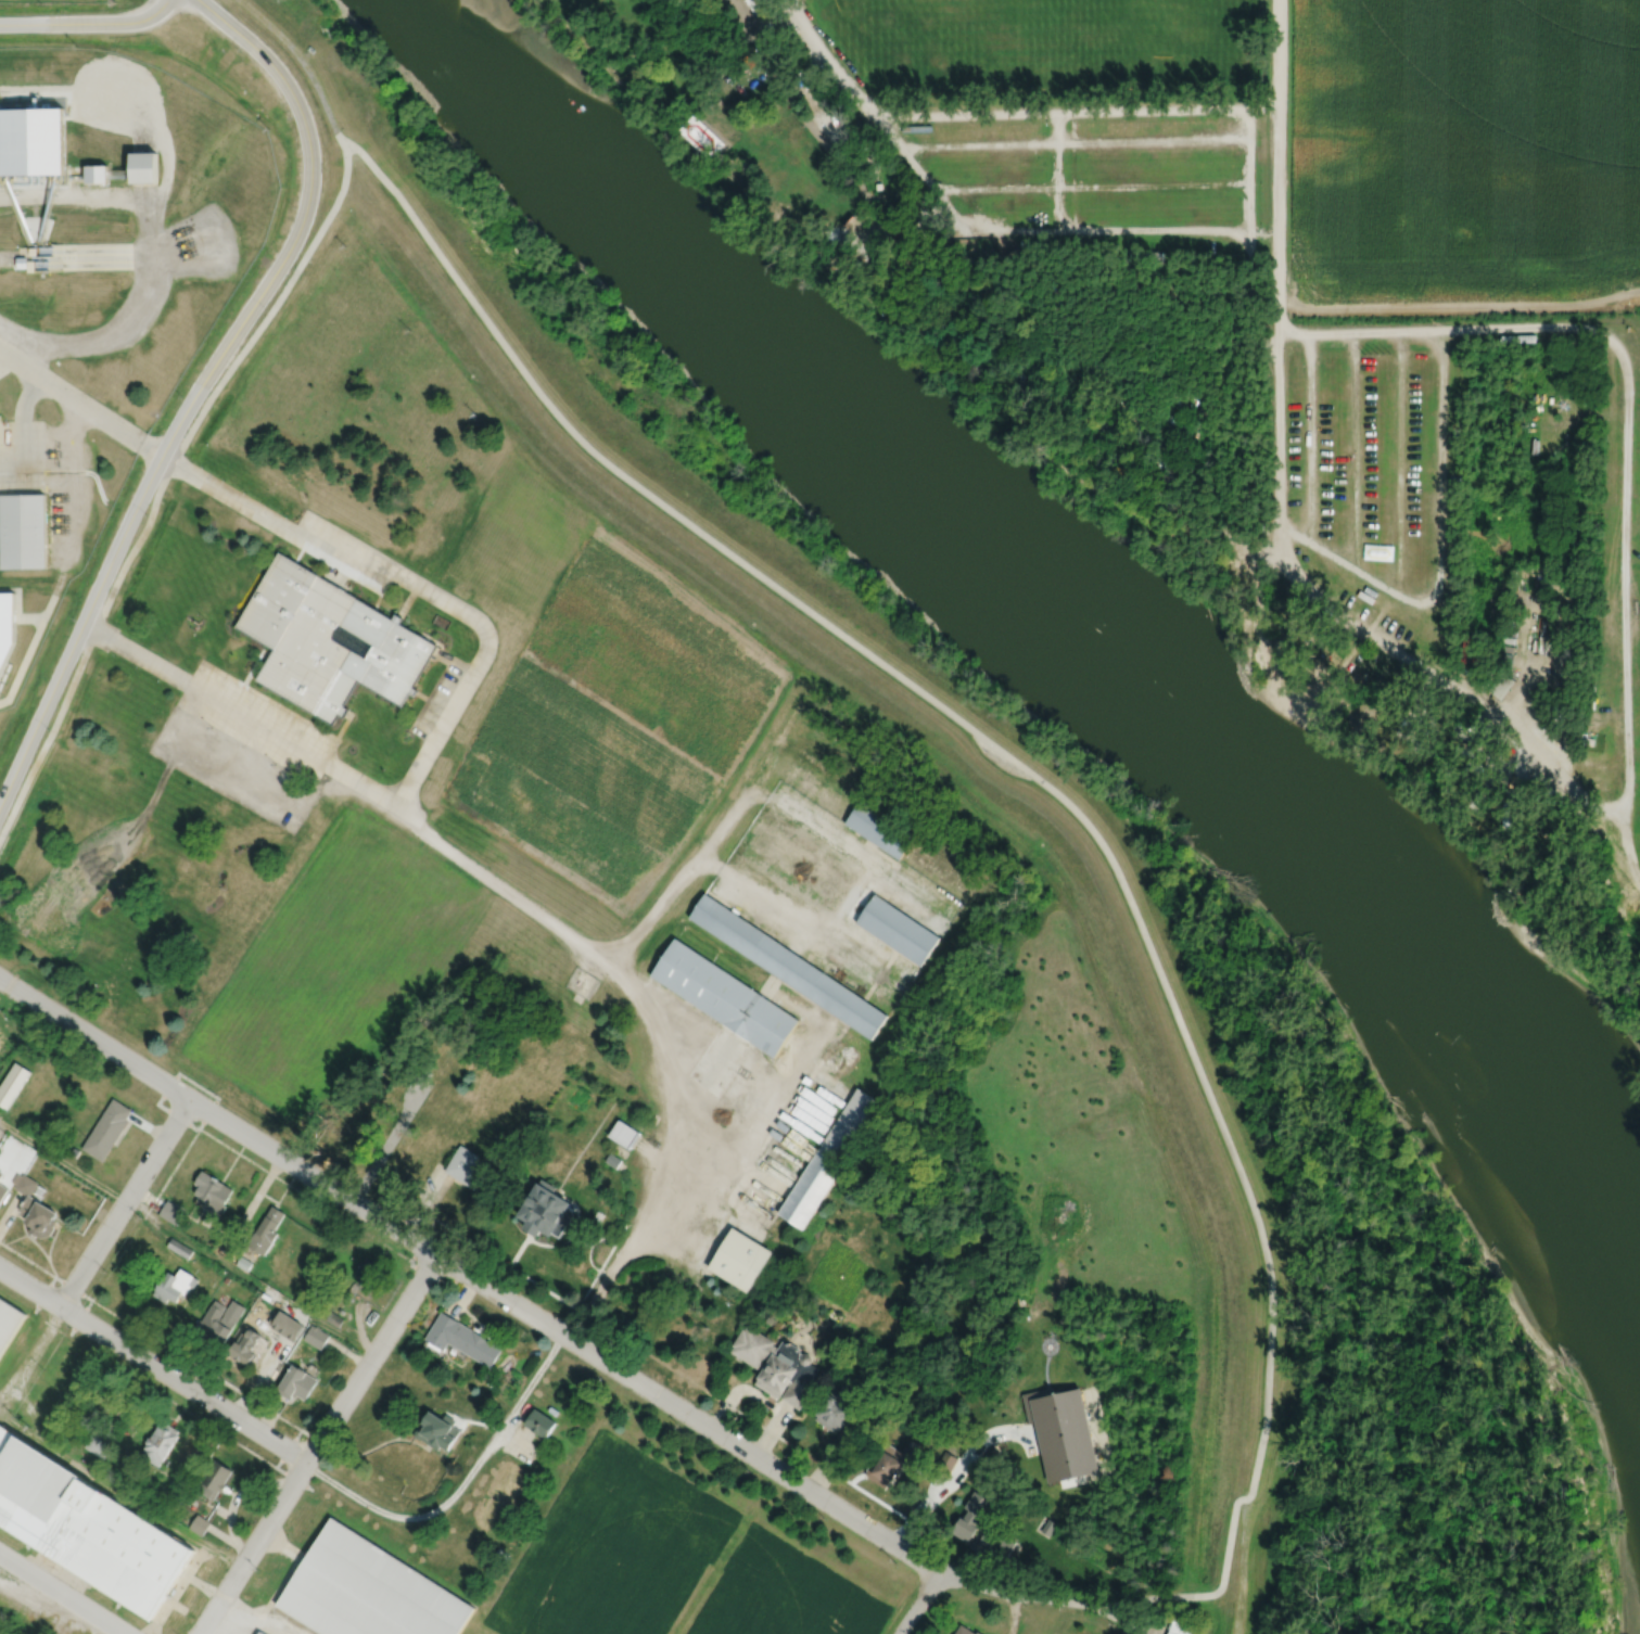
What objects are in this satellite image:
road: (87, 22)
road: (1276, 53)
building: (39, 55)
building: (64, 55)
road: (304, 64)
building: (916, 127)
building: (30, 140)
road: (1072, 142)
building: (143, 166)
road: (1075, 169)
building: (96, 173)
road: (1090, 184)
road: (161, 200)
road: (1093, 229)
building: (835, 235)
building: (33, 251)
building: (21, 261)
building: (30, 266)
road: (1249, 296)
road: (1276, 306)
road: (1, 352)
road: (199, 388)
road: (79, 401)
building: (1170, 406)
road: (21, 429)
building: (2, 431)
road: (1625, 435)
road: (1309, 438)
road: (1356, 451)
road: (1398, 462)
road: (67, 480)
road: (161, 484)
building: (22, 533)
parking lot: (343, 551)
road: (1439, 556)
road: (411, 580)
building: (5, 621)
river: (1050, 624)
building: (328, 641)
building: (1500, 659)
road: (1529, 676)
building: (1563, 684)
building: (1500, 685)
parking lot: (436, 702)
road: (252, 719)
parking lot: (244, 748)
road: (1005, 755)
road: (757, 792)
building: (879, 829)
park: (134, 868)
building: (838, 890)
road: (800, 921)
building: (787, 966)
building: (724, 997)
road: (654, 1039)
road: (716, 1054)
building: (419, 1076)
building: (12, 1084)
road: (217, 1116)
building: (805, 1127)
road: (196, 1128)
road: (762, 1128)
building: (106, 1131)
building: (624, 1135)
building: (74, 1152)
building: (828, 1159)
building: (612, 1161)
building: (468, 1170)
building: (0, 1174)
building: (3, 1180)
building: (24, 1184)
building: (2, 1192)
building: (212, 1193)
road: (124, 1202)
road: (325, 1208)
building: (170, 1212)
building: (545, 1213)
road: (145, 1214)
building: (37, 1217)
building: (179, 1223)
building: (266, 1231)
road: (185, 1239)
building: (179, 1249)
road: (27, 1259)
building: (739, 1261)
building: (244, 1264)
building: (367, 1274)
building: (226, 1279)
building: (174, 1287)
road: (116, 1315)
road: (79, 1317)
building: (9, 1322)
building: (284, 1325)
building: (216, 1327)
building: (316, 1336)
building: (461, 1341)
building: (244, 1344)
building: (752, 1349)
road: (639, 1350)
road: (29, 1356)
road: (153, 1365)
building: (882, 1375)
building: (787, 1376)
building: (296, 1381)
road: (126, 1399)
building: (953, 1405)
building: (840, 1409)
building: (542, 1421)
building: (438, 1429)
building: (160, 1441)
building: (98, 1444)
road: (317, 1444)
building: (887, 1461)
road: (766, 1466)
building: (215, 1478)
road: (952, 1478)
road: (460, 1485)
road: (120, 1489)
road: (236, 1498)
building: (971, 1515)
building: (88, 1522)
building: (200, 1523)
building: (1048, 1526)
building: (996, 1541)
building: (501, 1553)
crop: (668, 1562)
building: (368, 1590)
road: (62, 1593)
road: (1164, 1597)
road: (917, 1604)
railway: (26, 1618)
road: (252, 1619)
building: (1180, 1627)
road: (207, 1630)
building: (965, 1630)
building: (262, 1632)
building: (254, 1633)

